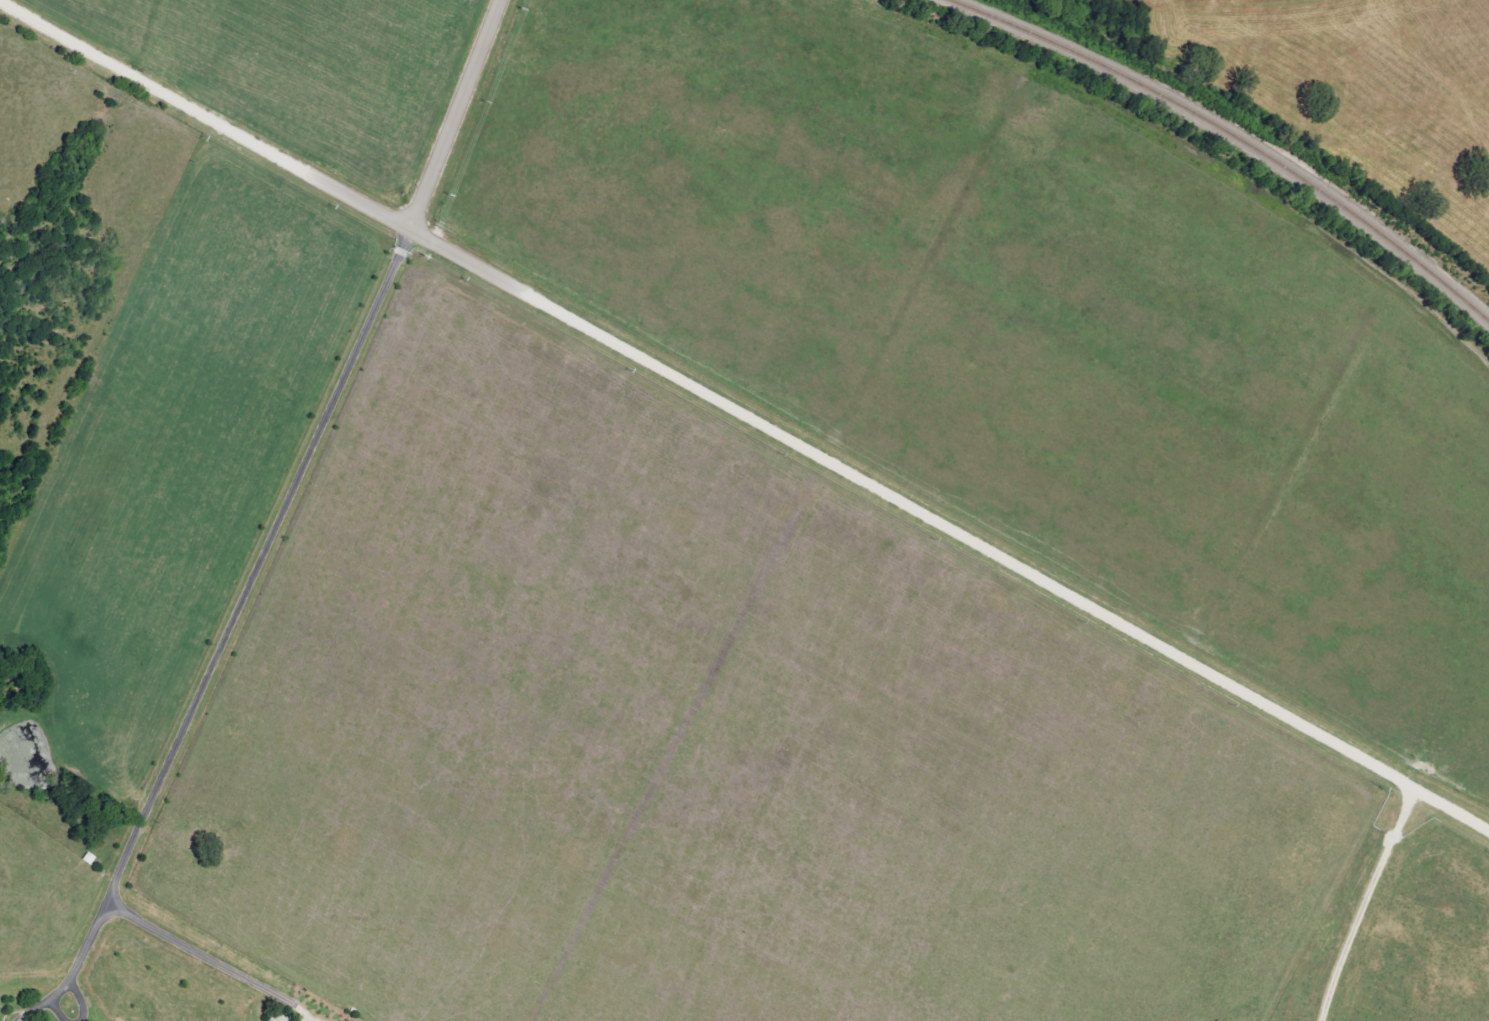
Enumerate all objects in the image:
road: (451, 115)
railway: (1235, 136)
road: (744, 417)
road: (235, 610)
road: (1360, 903)
road: (217, 964)

